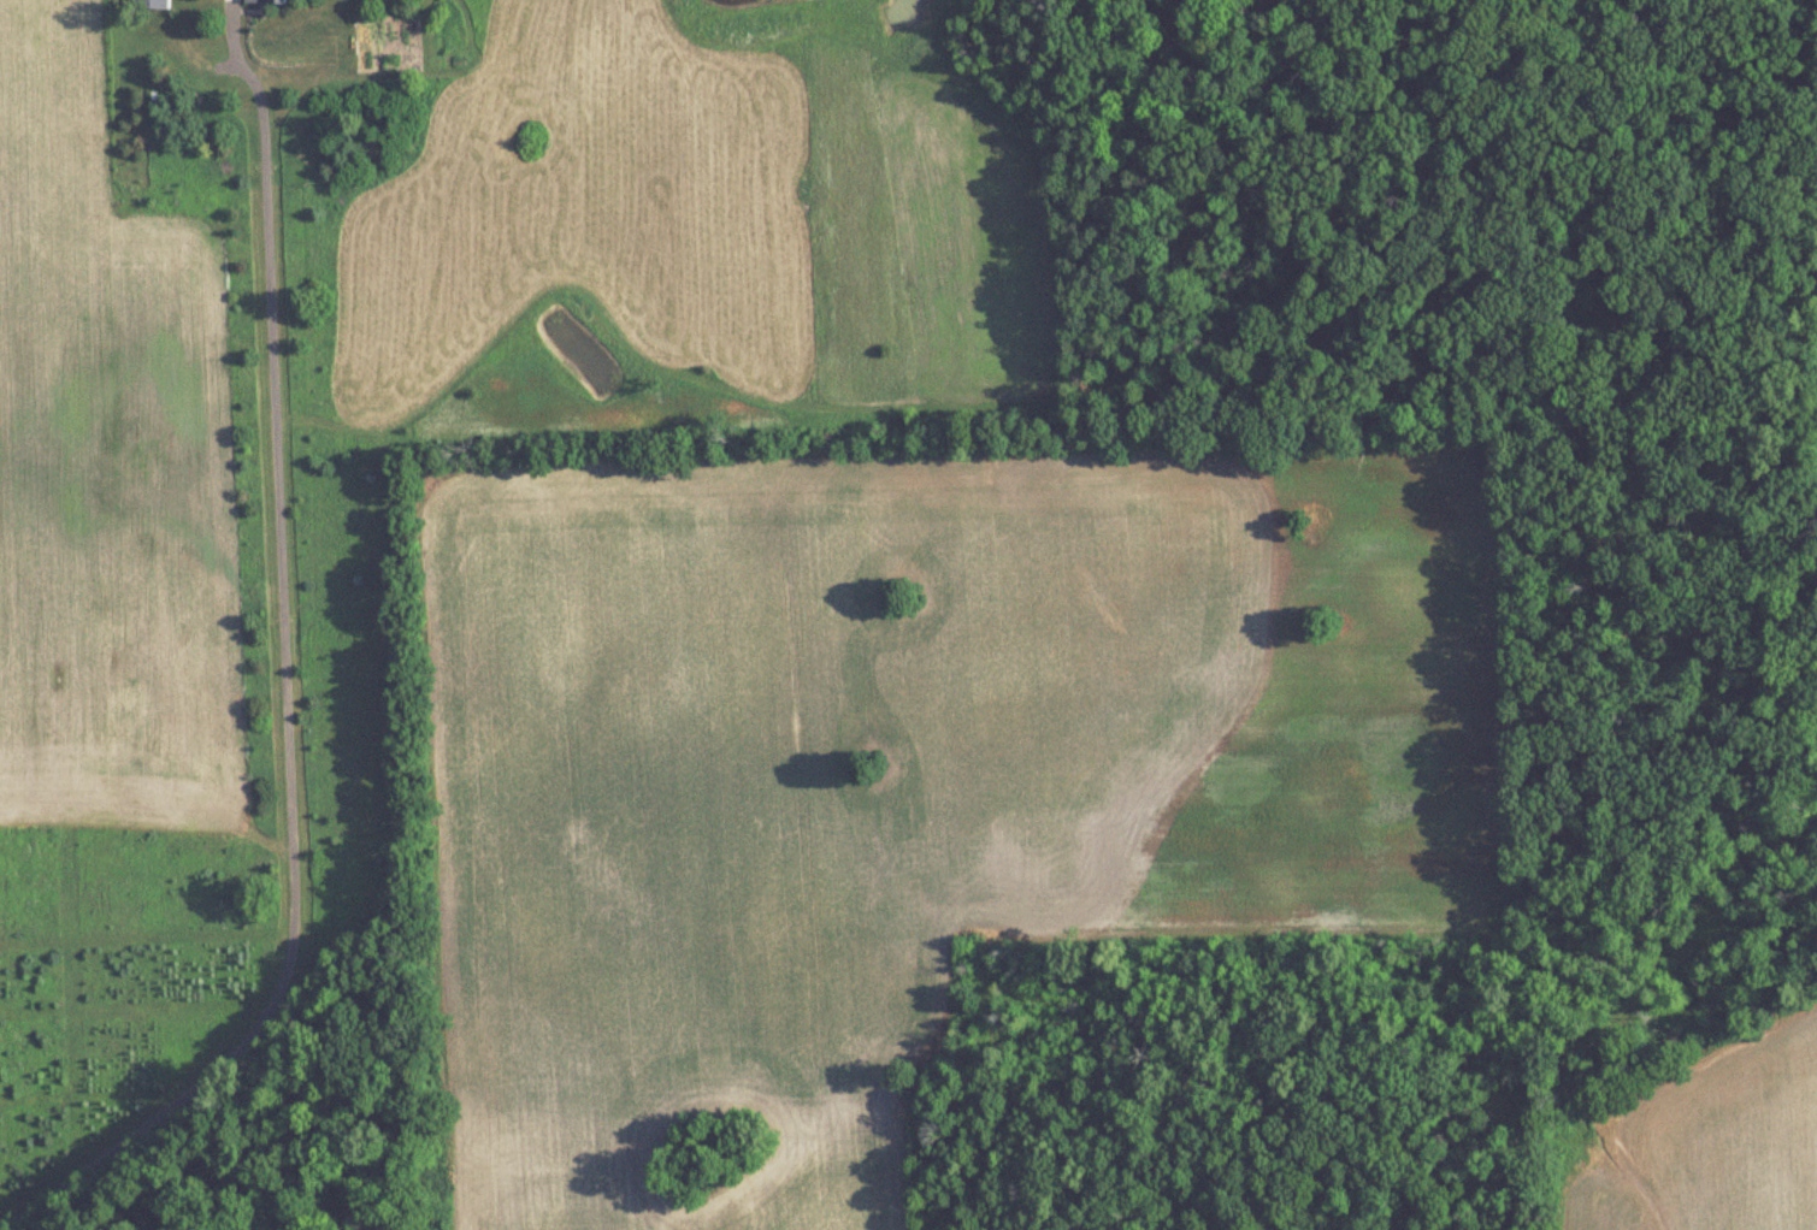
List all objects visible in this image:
building: (270, 1)
building: (152, 4)
crop: (110, 466)
road: (285, 676)
crop: (904, 776)
crop: (1717, 1142)

